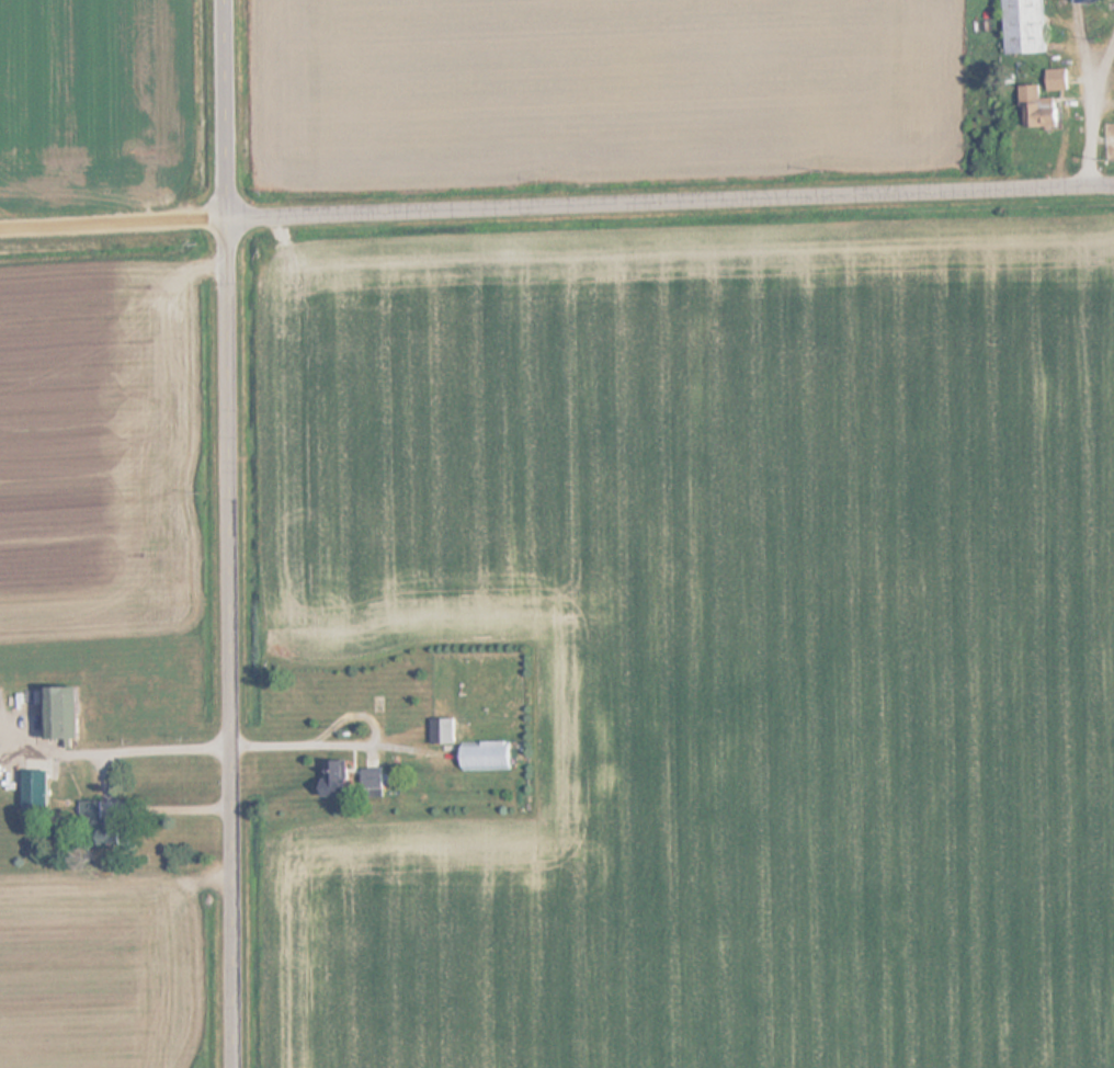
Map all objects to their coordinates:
building: (1030, 25)
building: (1061, 80)
building: (1046, 109)
road: (234, 110)
road: (674, 202)
road: (117, 224)
road: (238, 644)
building: (67, 713)
building: (445, 730)
building: (490, 755)
building: (346, 779)
building: (104, 827)

